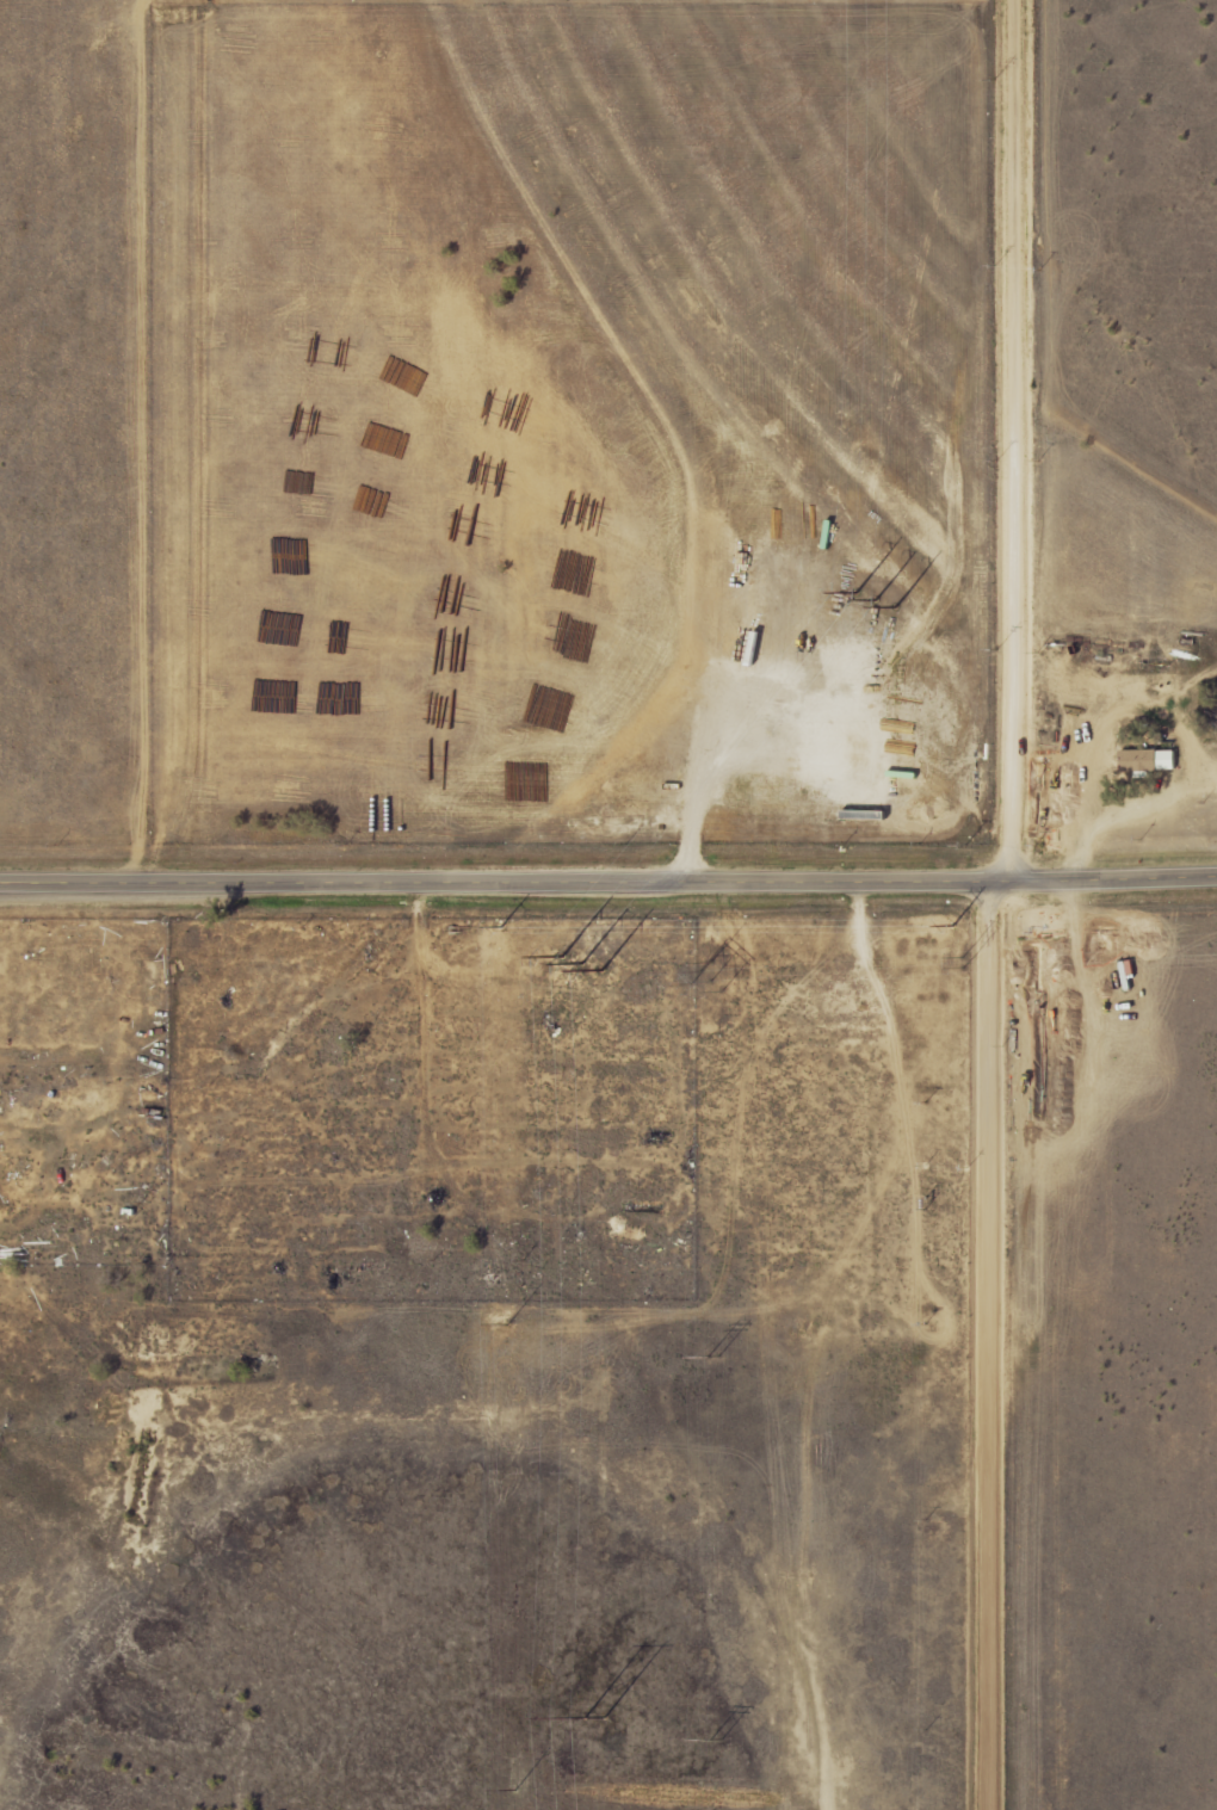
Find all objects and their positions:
power tower: (876, 599)
building: (1144, 761)
road: (608, 882)
road: (999, 904)
power tower: (966, 962)
power tower: (582, 963)
power tower: (712, 975)
power tower: (804, 1330)
power tower: (715, 1355)
power tower: (599, 1718)
power tower: (717, 1742)

